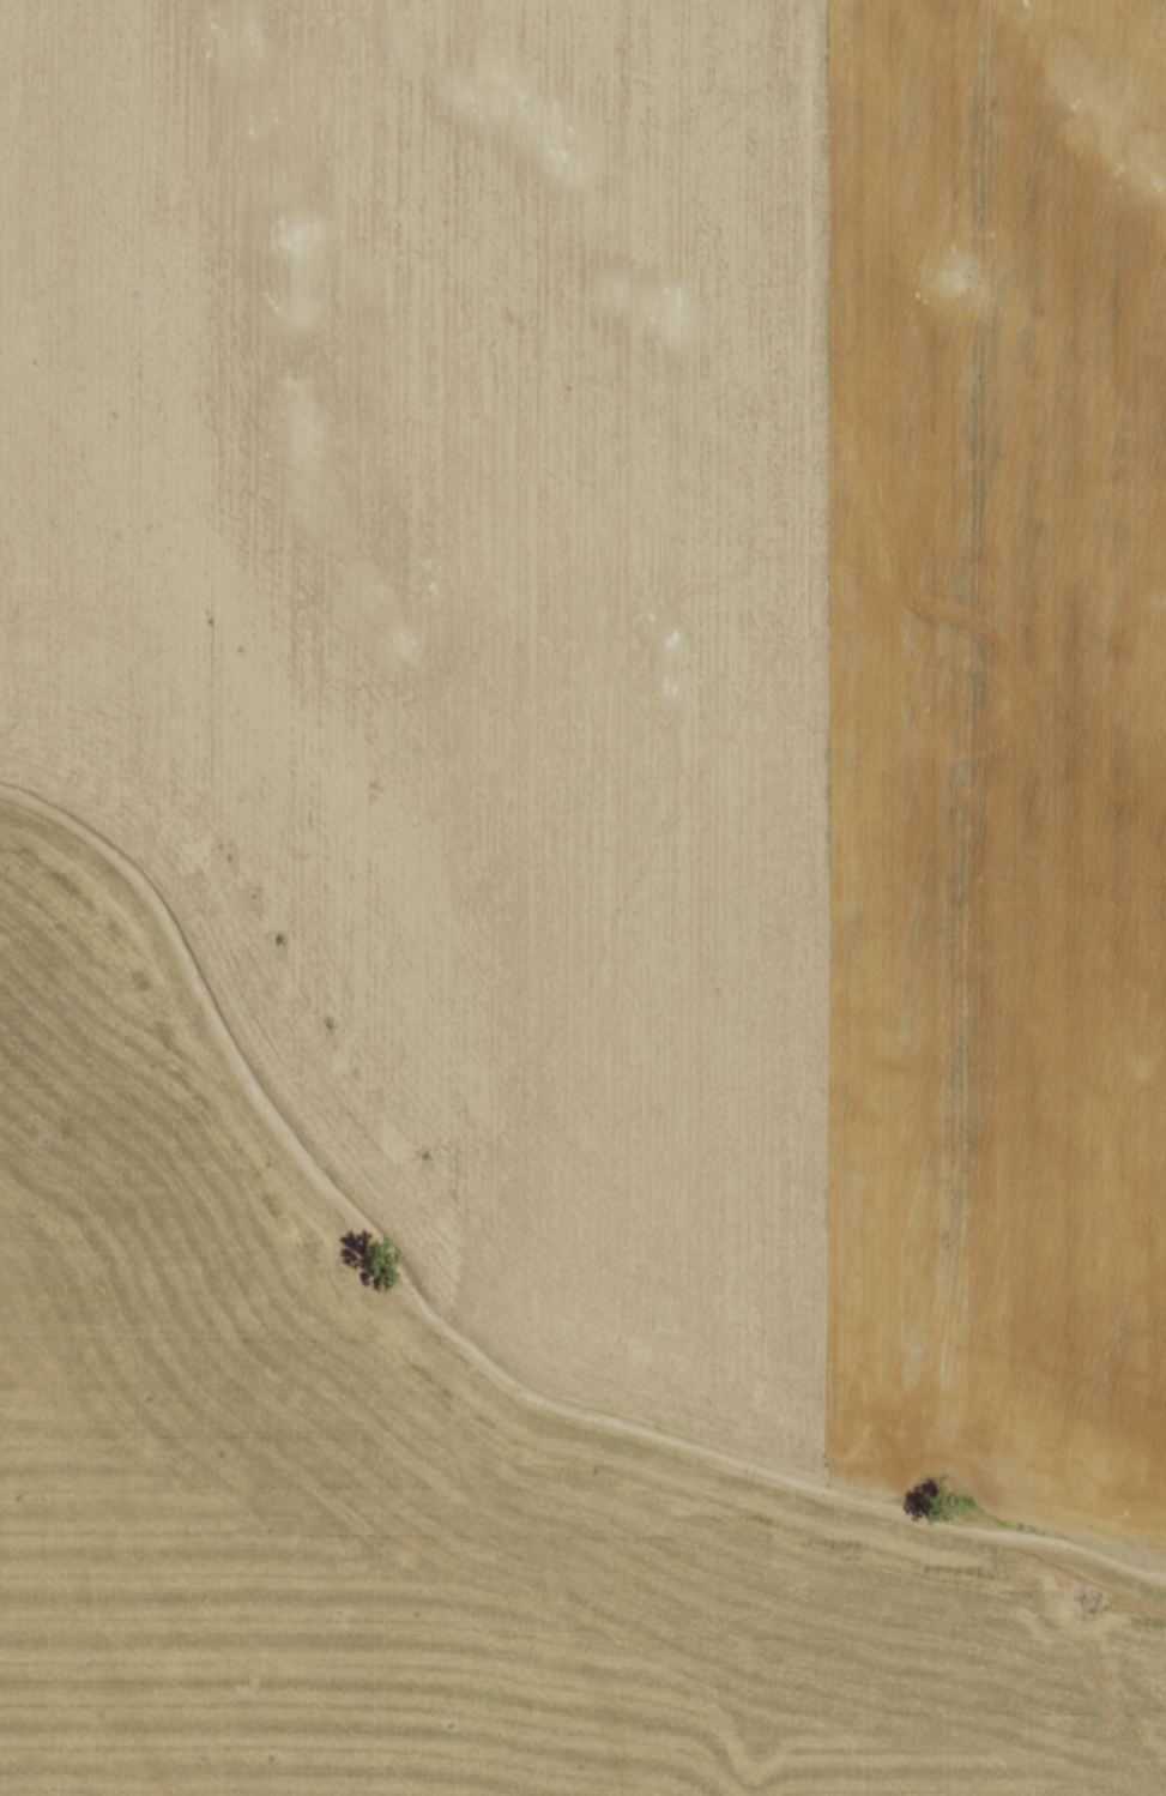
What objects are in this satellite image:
crop: (582, 898)

